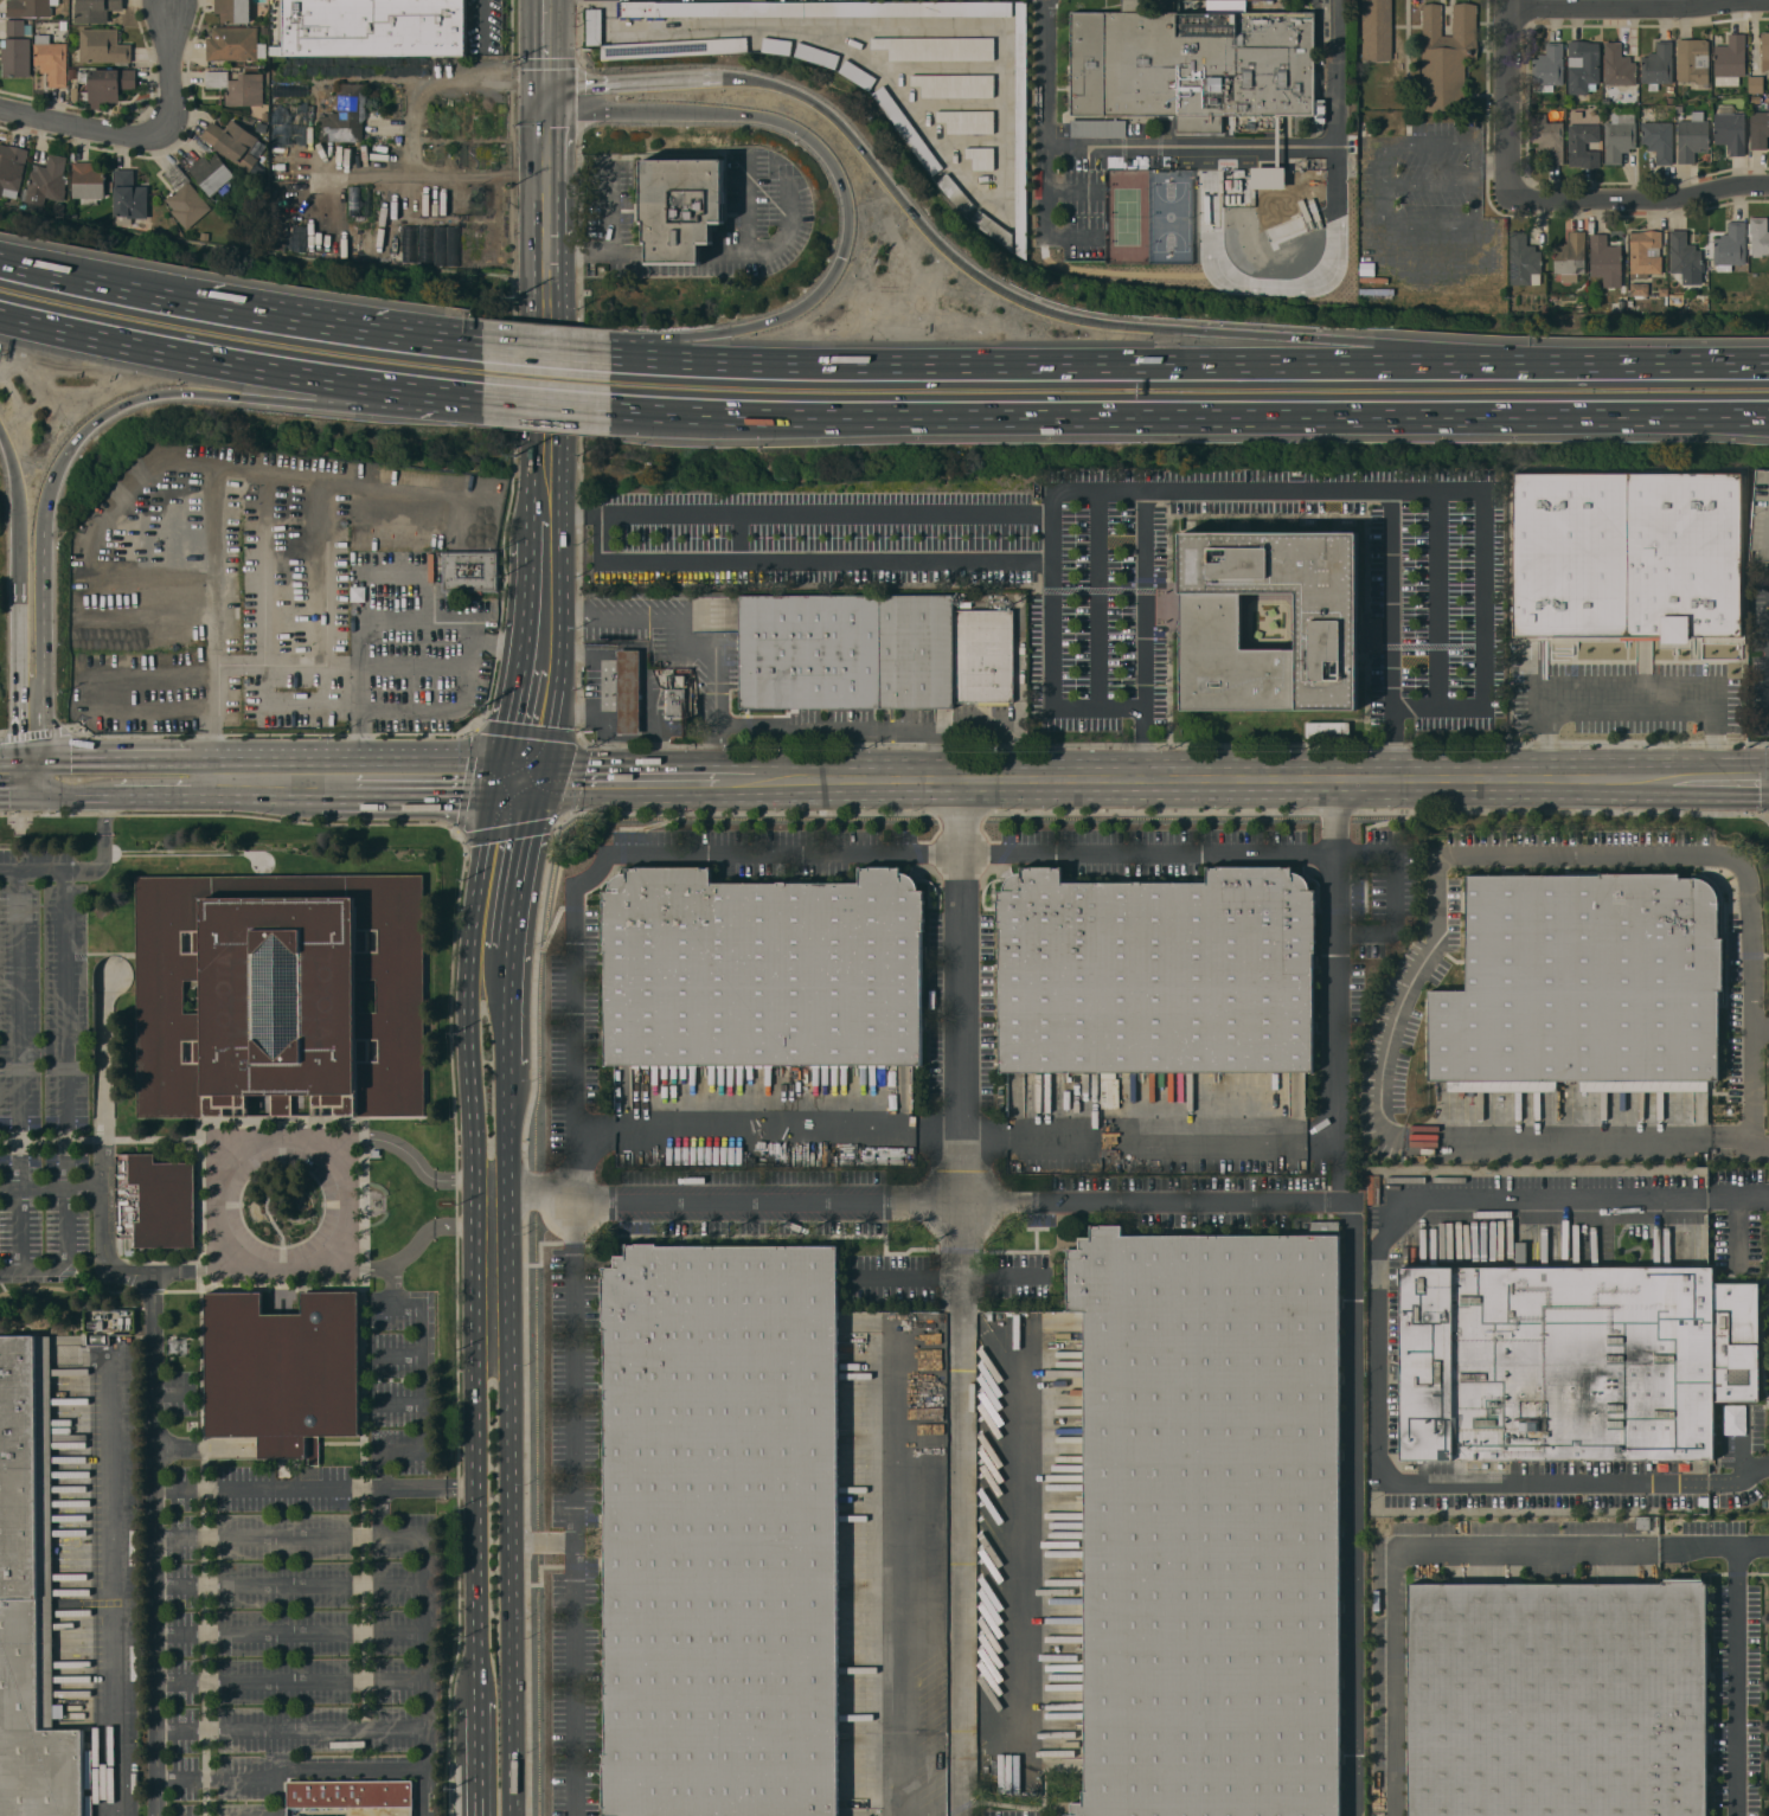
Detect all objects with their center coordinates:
building: (30, 7)
building: (909, 8)
building: (95, 9)
building: (709, 9)
road: (1641, 9)
building: (232, 11)
road: (480, 21)
building: (594, 26)
building: (15, 27)
building: (374, 27)
building: (1377, 30)
road: (549, 39)
building: (232, 44)
building: (776, 45)
building: (102, 46)
building: (673, 47)
building: (935, 49)
building: (1764, 51)
building: (816, 56)
building: (1446, 56)
building: (15, 57)
building: (51, 59)
building: (1692, 60)
building: (1729, 60)
building: (1193, 65)
road: (169, 66)
building: (1583, 66)
building: (1617, 66)
building: (1658, 66)
building: (1547, 68)
building: (857, 75)
traffic signals: (549, 79)
road: (634, 79)
building: (107, 84)
building: (1756, 84)
building: (954, 85)
building: (238, 88)
building: (1669, 89)
building: (1591, 96)
road: (547, 97)
road: (1513, 98)
building: (1755, 98)
building: (1607, 100)
building: (1669, 100)
building: (1679, 109)
building: (345, 115)
road: (602, 115)
traffic signals: (547, 116)
building: (967, 121)
building: (1097, 127)
road: (85, 128)
building: (1021, 128)
road: (418, 129)
building: (1730, 129)
building: (1758, 129)
building: (905, 130)
building: (1549, 137)
building: (1619, 137)
building: (1692, 137)
building: (1658, 140)
building: (232, 142)
building: (1582, 145)
road: (1190, 146)
building: (980, 156)
road: (1382, 158)
building: (11, 167)
road: (1493, 168)
building: (211, 173)
building: (1268, 177)
building: (45, 181)
building: (88, 181)
road: (841, 187)
building: (955, 193)
building: (128, 197)
building: (184, 198)
road: (743, 203)
road: (1642, 203)
building: (680, 207)
building: (993, 229)
road: (1430, 229)
road: (931, 233)
building: (1758, 237)
road: (609, 238)
road: (768, 245)
building: (1730, 246)
road: (628, 252)
building: (1645, 254)
road: (674, 257)
traffic signals: (840, 257)
building: (1570, 257)
building: (1685, 257)
building: (1604, 258)
building: (1523, 261)
road: (101, 288)
building: (1639, 289)
building: (1662, 291)
road: (547, 299)
building: (1672, 300)
road: (338, 331)
road: (693, 347)
road: (1357, 347)
road: (198, 354)
road: (545, 354)
road: (639, 361)
road: (1651, 365)
road: (1097, 366)
road: (437, 390)
traffic signals: (180, 391)
road: (544, 400)
road: (320, 405)
road: (107, 410)
road: (1190, 412)
road: (12, 473)
road: (1098, 494)
road: (1438, 496)
road: (547, 514)
road: (799, 515)
building: (1760, 519)
road: (1051, 528)
road: (1483, 552)
building: (1571, 554)
building: (1685, 554)
road: (806, 557)
road: (220, 558)
building: (473, 570)
road: (544, 598)
building: (964, 604)
road: (376, 621)
building: (1206, 622)
road: (1392, 636)
road: (15, 643)
road: (684, 643)
road: (41, 649)
parking lot: (411, 652)
building: (874, 653)
building: (1643, 657)
building: (680, 676)
building: (624, 689)
gas station: (623, 691)
building: (675, 702)
road: (1627, 704)
road: (1122, 706)
road: (1415, 708)
road: (212, 711)
road: (533, 713)
road: (444, 714)
road: (852, 727)
building: (1327, 730)
road: (7, 775)
traffic signals: (15, 775)
road: (27, 775)
road: (75, 775)
road: (316, 775)
traffic signals: (40, 776)
traffic signals: (524, 776)
road: (618, 777)
road: (1095, 781)
road: (1741, 783)
road: (1573, 784)
road: (1693, 784)
road: (1767, 816)
road: (1337, 817)
road: (550, 824)
road: (103, 838)
road: (506, 841)
road: (1572, 851)
road: (941, 853)
road: (32, 872)
road: (1396, 892)
road: (1338, 963)
building: (1585, 981)
building: (280, 993)
building: (1160, 994)
building: (767, 995)
road: (506, 1005)
road: (65, 1031)
road: (15, 1071)
road: (1382, 1084)
road: (1755, 1087)
building: (911, 1122)
road: (1568, 1138)
road: (103, 1146)
road: (431, 1176)
road: (51, 1191)
building: (154, 1201)
road: (539, 1201)
road: (344, 1202)
road: (1179, 1204)
road: (216, 1205)
road: (432, 1228)
road: (68, 1263)
road: (948, 1277)
road: (475, 1282)
road: (395, 1297)
road: (962, 1313)
road: (1379, 1349)
road: (147, 1352)
road: (399, 1354)
building: (1571, 1365)
building: (283, 1371)
road: (399, 1404)
road: (421, 1417)
road: (509, 1459)
road: (315, 1487)
road: (1351, 1503)
road: (572, 1508)
road: (382, 1512)
building: (1642, 1522)
building: (1197, 1525)
building: (723, 1533)
road: (289, 1536)
road: (541, 1541)
road: (1698, 1548)
road: (1397, 1553)
road: (105, 1584)
road: (290, 1586)
road: (903, 1589)
building: (30, 1596)
road: (155, 1617)
road: (290, 1635)
road: (1738, 1666)
road: (425, 1675)
road: (289, 1682)
building: (1562, 1699)
road: (290, 1731)
road: (477, 1738)
road: (334, 1769)
road: (220, 1779)
building: (348, 1793)

